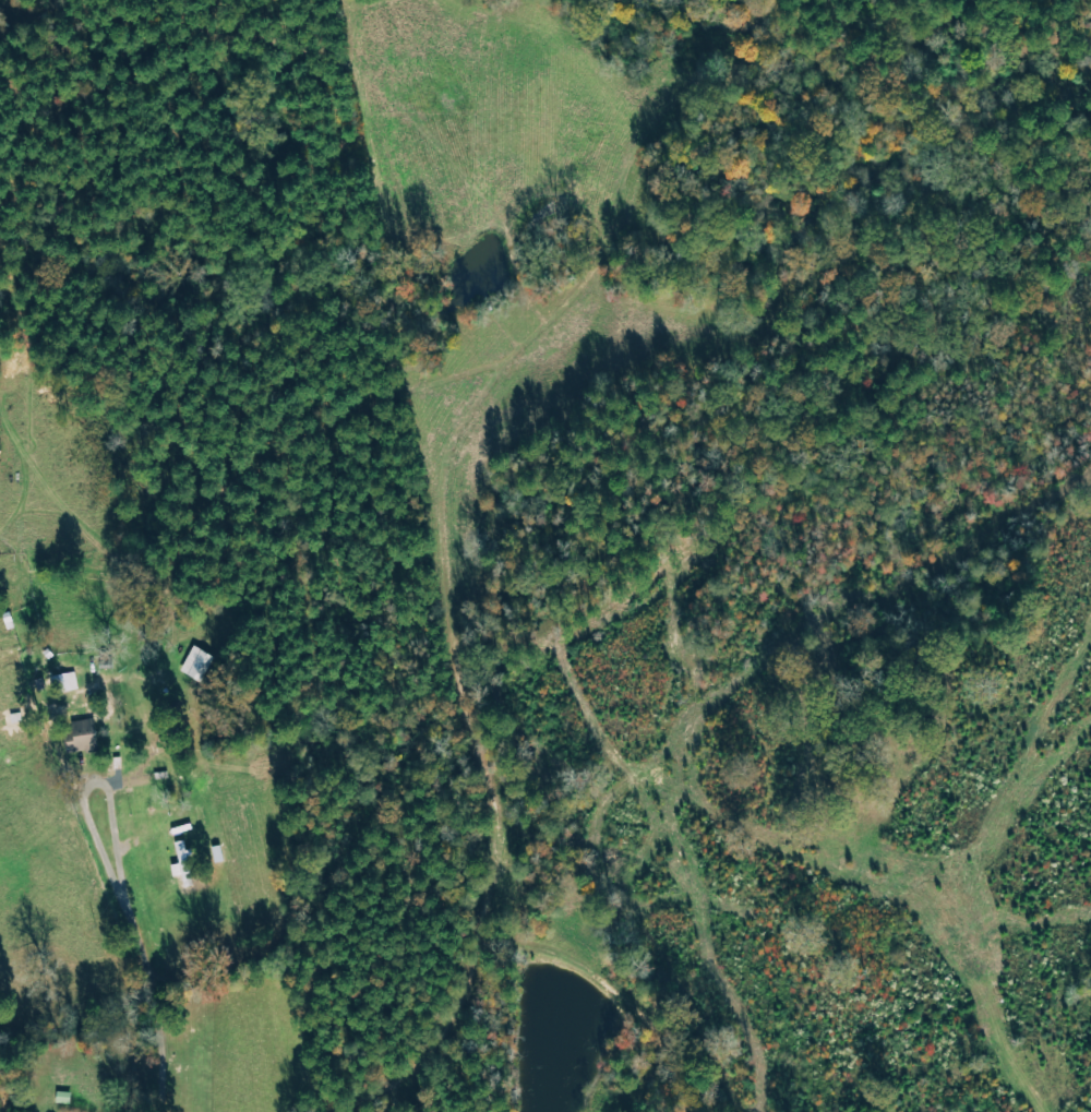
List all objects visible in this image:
building: (196, 663)
building: (65, 682)
building: (83, 737)
building: (189, 860)
road: (130, 945)

